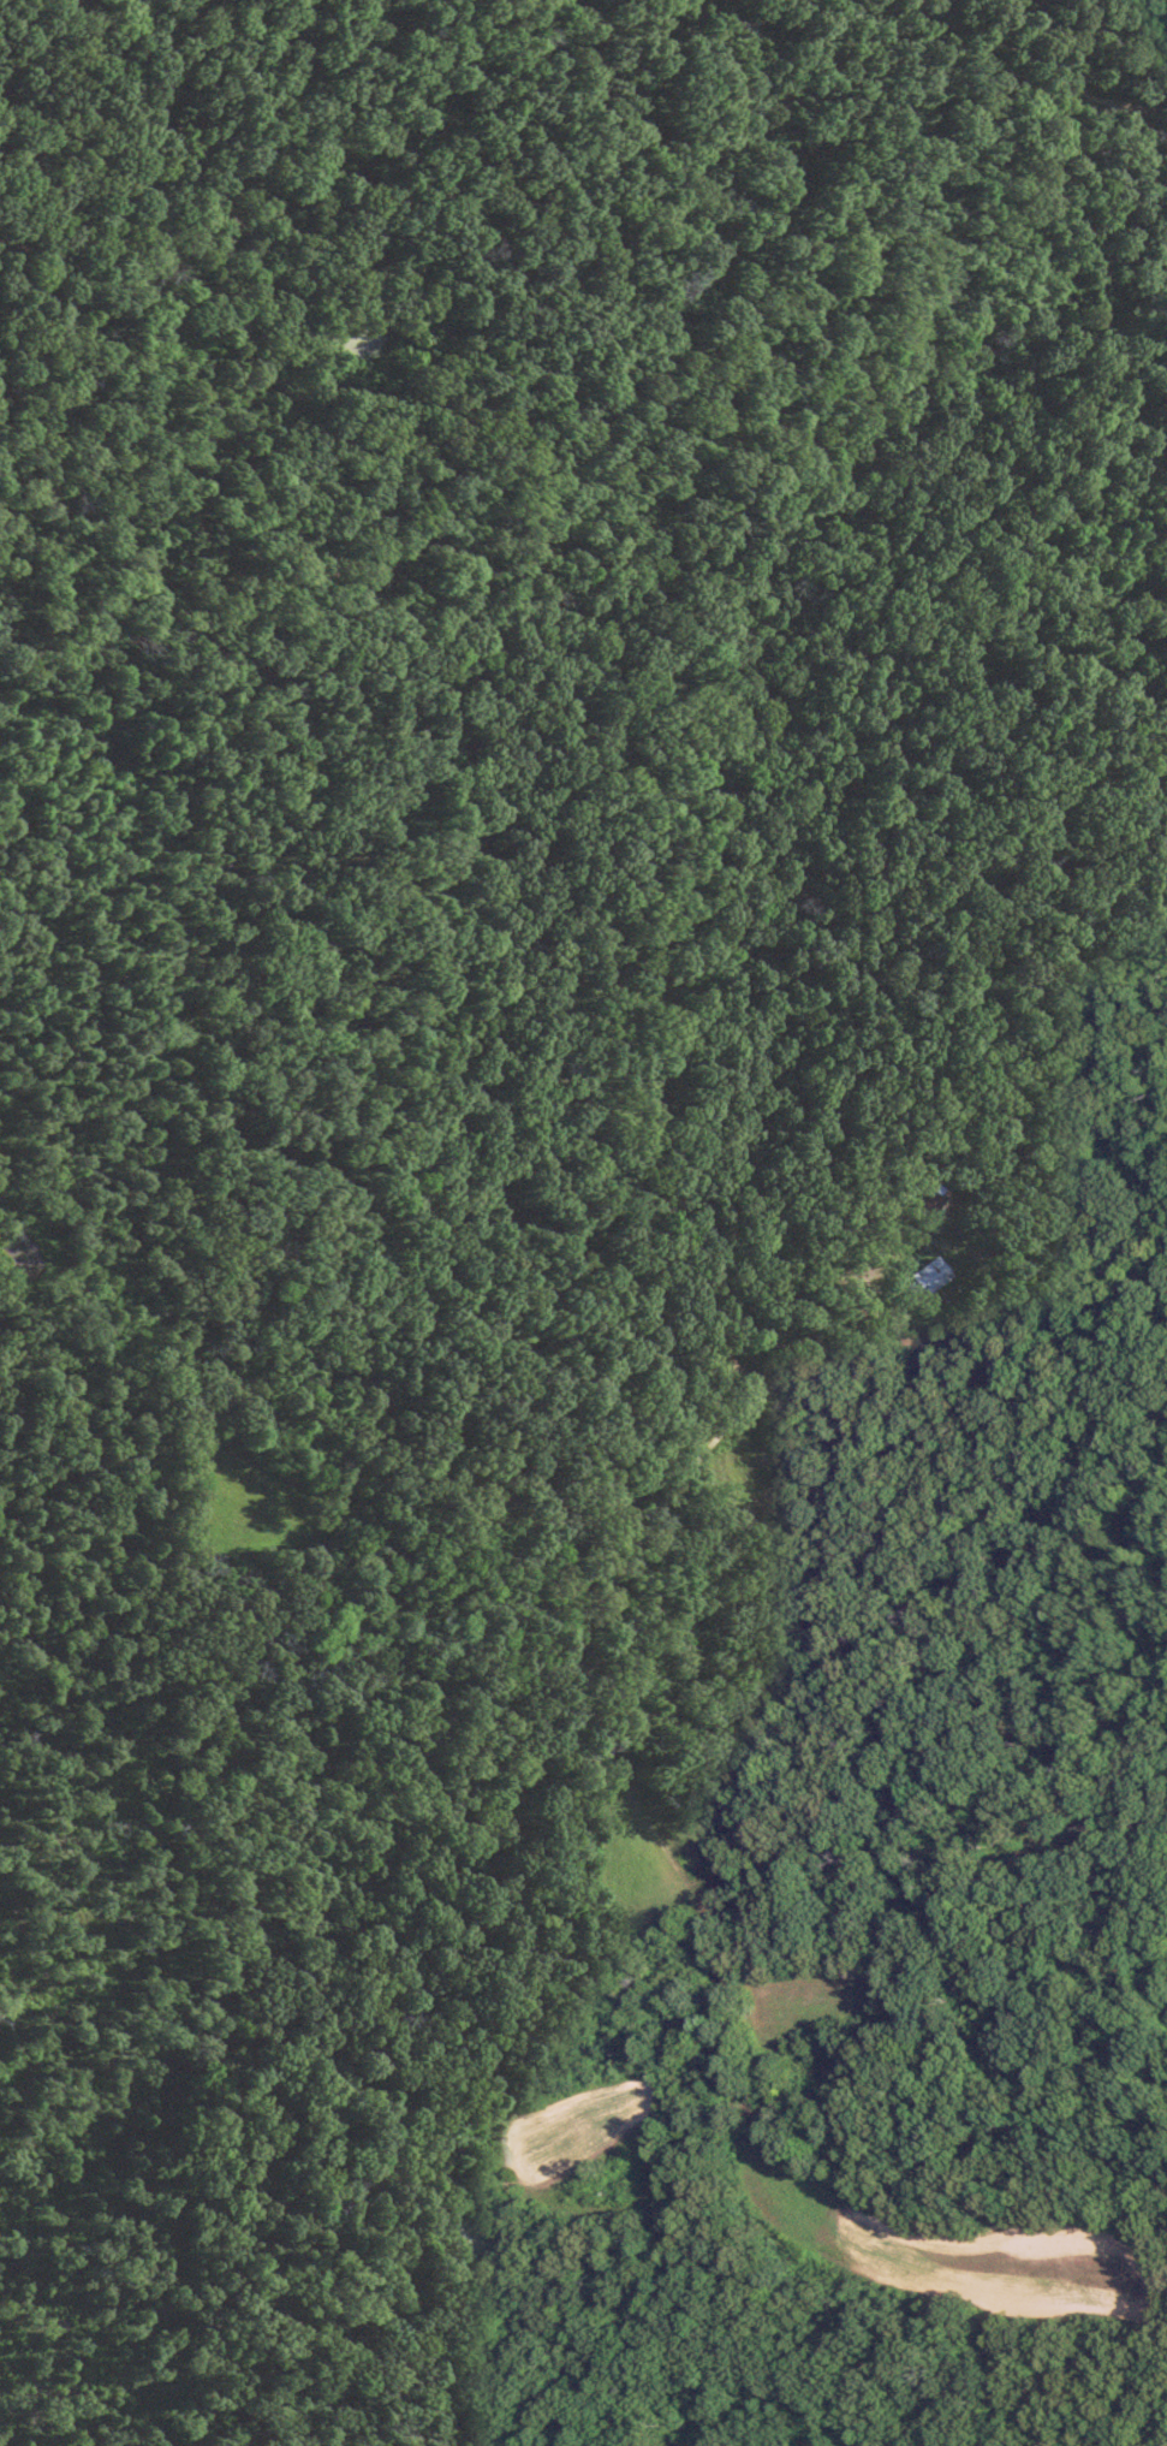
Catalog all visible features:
road: (1046, 52)

